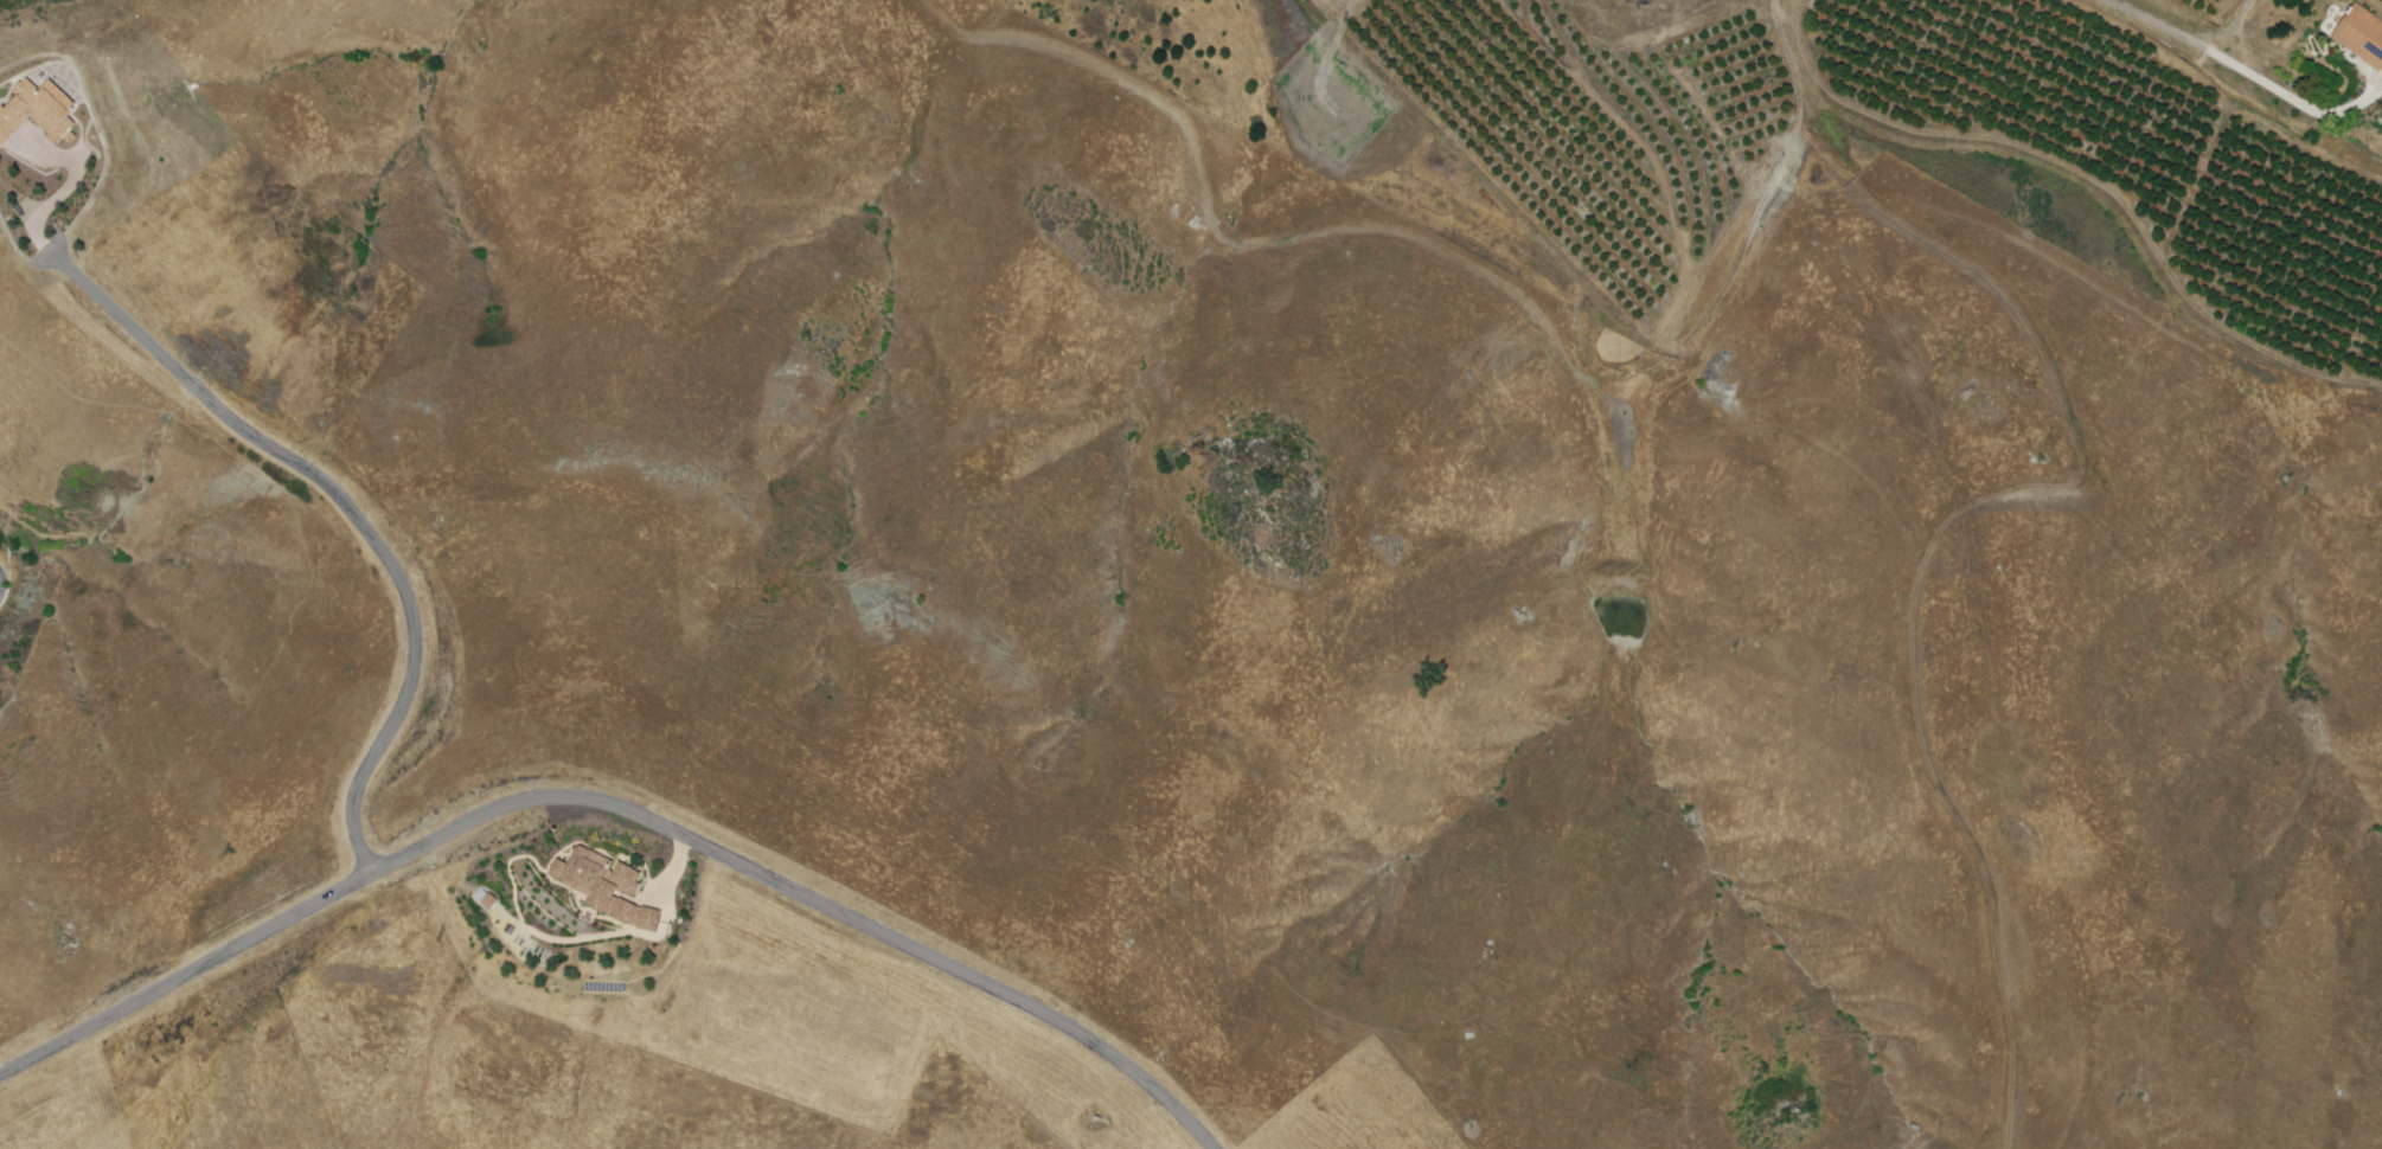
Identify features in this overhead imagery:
crop: (1326, 2)
crop: (2214, 13)
road: (2243, 31)
building: (2363, 34)
road: (2241, 69)
building: (39, 111)
road: (1454, 258)
road: (352, 513)
road: (623, 808)
building: (607, 886)
building: (489, 900)

